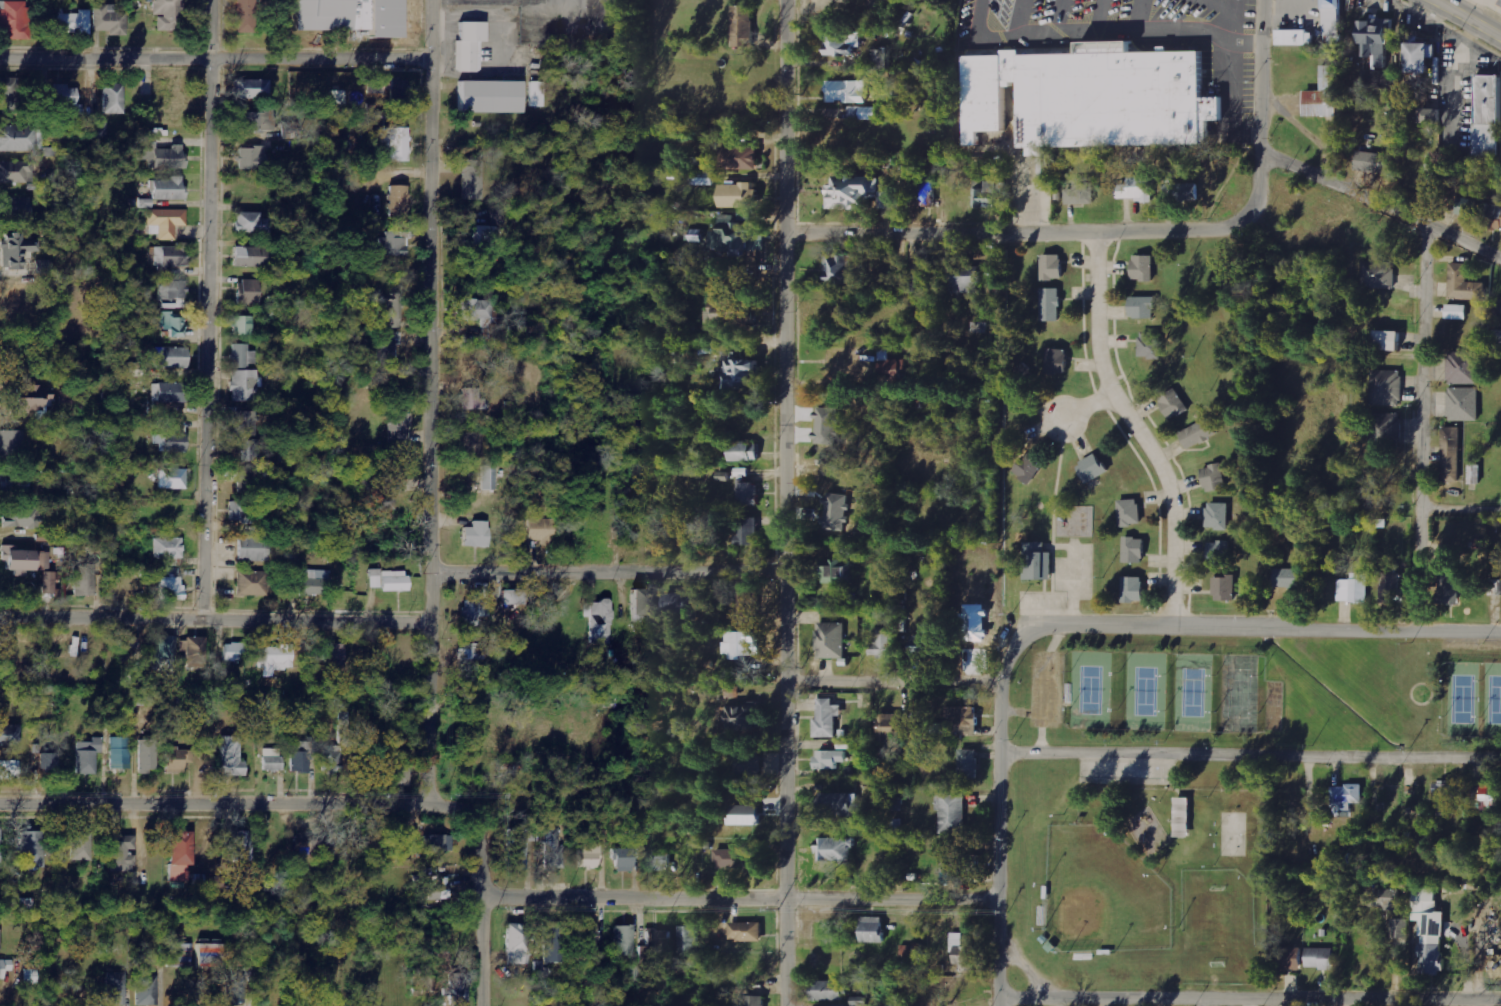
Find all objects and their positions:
building: (168, 13)
building: (246, 16)
road: (1138, 16)
building: (352, 17)
road: (977, 17)
road: (1470, 18)
building: (15, 20)
building: (109, 21)
building: (73, 22)
building: (743, 26)
road: (1119, 32)
building: (1296, 38)
building: (1377, 42)
building: (843, 43)
building: (470, 47)
building: (1423, 57)
road: (217, 59)
building: (883, 59)
building: (252, 89)
building: (390, 89)
building: (847, 91)
building: (537, 94)
building: (1092, 94)
building: (63, 95)
building: (1324, 95)
building: (10, 96)
building: (491, 98)
building: (338, 99)
building: (113, 100)
building: (1488, 115)
road: (1263, 116)
building: (1431, 116)
building: (256, 122)
building: (394, 145)
building: (160, 154)
building: (740, 158)
building: (253, 159)
building: (1374, 162)
building: (16, 173)
building: (702, 178)
building: (474, 180)
building: (1138, 189)
building: (169, 190)
building: (1082, 192)
building: (1182, 192)
building: (858, 193)
building: (740, 196)
building: (926, 196)
building: (399, 202)
road: (1382, 204)
building: (1467, 206)
building: (15, 209)
building: (1494, 216)
building: (166, 223)
building: (251, 224)
road: (1012, 230)
building: (484, 237)
building: (736, 237)
building: (392, 245)
building: (18, 253)
building: (172, 256)
building: (251, 257)
building: (44, 265)
building: (1053, 266)
building: (1144, 267)
building: (846, 269)
building: (924, 270)
building: (1380, 275)
building: (966, 279)
building: (1465, 284)
building: (248, 293)
building: (173, 294)
building: (1051, 304)
building: (1143, 306)
building: (389, 307)
road: (214, 309)
building: (1457, 312)
building: (735, 316)
building: (484, 317)
building: (172, 323)
building: (243, 326)
building: (979, 327)
building: (1497, 337)
building: (1389, 339)
building: (1151, 344)
building: (386, 348)
building: (243, 356)
building: (170, 358)
building: (1058, 360)
building: (891, 367)
building: (1463, 367)
building: (134, 370)
building: (743, 372)
building: (244, 386)
building: (1386, 387)
building: (169, 393)
building: (472, 400)
building: (35, 401)
road: (432, 401)
building: (1174, 403)
building: (1463, 404)
road: (1145, 422)
building: (246, 423)
road: (1422, 425)
building: (1386, 430)
building: (1199, 433)
building: (172, 438)
building: (471, 444)
building: (12, 445)
building: (745, 451)
building: (253, 452)
building: (1452, 454)
building: (1029, 467)
building: (1093, 467)
building: (1475, 473)
building: (1214, 477)
building: (489, 478)
building: (173, 479)
building: (15, 485)
building: (749, 492)
road: (786, 502)
road: (1461, 505)
building: (240, 511)
building: (1130, 512)
building: (1218, 516)
building: (24, 518)
building: (541, 529)
building: (749, 530)
building: (477, 534)
building: (167, 548)
building: (253, 548)
building: (1134, 549)
building: (1220, 553)
building: (27, 560)
building: (1037, 561)
building: (837, 571)
road: (608, 575)
building: (375, 578)
building: (1291, 578)
building: (85, 580)
building: (395, 581)
building: (311, 582)
building: (48, 583)
building: (251, 583)
building: (171, 585)
building: (1451, 585)
building: (1500, 586)
building: (1225, 587)
building: (1133, 588)
building: (1354, 588)
building: (1393, 588)
building: (513, 597)
building: (642, 606)
building: (680, 606)
building: (476, 611)
building: (745, 612)
road: (215, 619)
building: (599, 621)
road: (1292, 623)
building: (831, 640)
building: (923, 642)
building: (127, 644)
building: (736, 644)
building: (882, 646)
building: (194, 649)
building: (234, 652)
building: (471, 652)
building: (165, 653)
building: (332, 653)
building: (276, 657)
road: (892, 680)
park: (1089, 688)
park: (1144, 689)
park: (1191, 690)
park: (1237, 692)
park: (1460, 697)
park: (1491, 699)
building: (963, 715)
building: (746, 716)
building: (827, 718)
building: (10, 736)
road: (1250, 751)
building: (119, 753)
building: (87, 756)
building: (148, 756)
building: (232, 757)
building: (178, 759)
building: (333, 759)
building: (830, 759)
building: (273, 760)
building: (301, 762)
building: (969, 763)
building: (748, 766)
building: (9, 770)
parking lot: (1125, 771)
building: (401, 773)
park: (1198, 782)
road: (999, 784)
building: (1348, 795)
building: (1445, 798)
building: (1487, 798)
road: (213, 802)
building: (840, 804)
building: (952, 813)
building: (745, 815)
building: (1180, 815)
park: (1231, 832)
building: (438, 843)
building: (80, 846)
building: (242, 846)
building: (308, 847)
building: (517, 848)
building: (32, 849)
building: (553, 849)
building: (836, 850)
building: (122, 853)
building: (181, 855)
building: (589, 856)
building: (731, 858)
building: (661, 859)
building: (624, 860)
building: (962, 864)
road: (481, 884)
building: (439, 888)
park: (1102, 892)
road: (739, 898)
building: (1382, 898)
park: (1218, 926)
building: (1399, 928)
building: (873, 929)
building: (1429, 929)
building: (746, 931)
building: (589, 938)
building: (690, 939)
building: (657, 940)
building: (623, 941)
building: (518, 944)
building: (551, 950)
building: (964, 953)
building: (180, 955)
building: (209, 955)
building: (1291, 958)
building: (1320, 958)
building: (5, 968)
building: (30, 977)
building: (116, 988)
building: (146, 989)
building: (236, 989)
building: (458, 989)
building: (829, 990)
road: (1249, 997)
building: (755, 1000)
road: (1346, 1001)
park: (1075, 1003)

